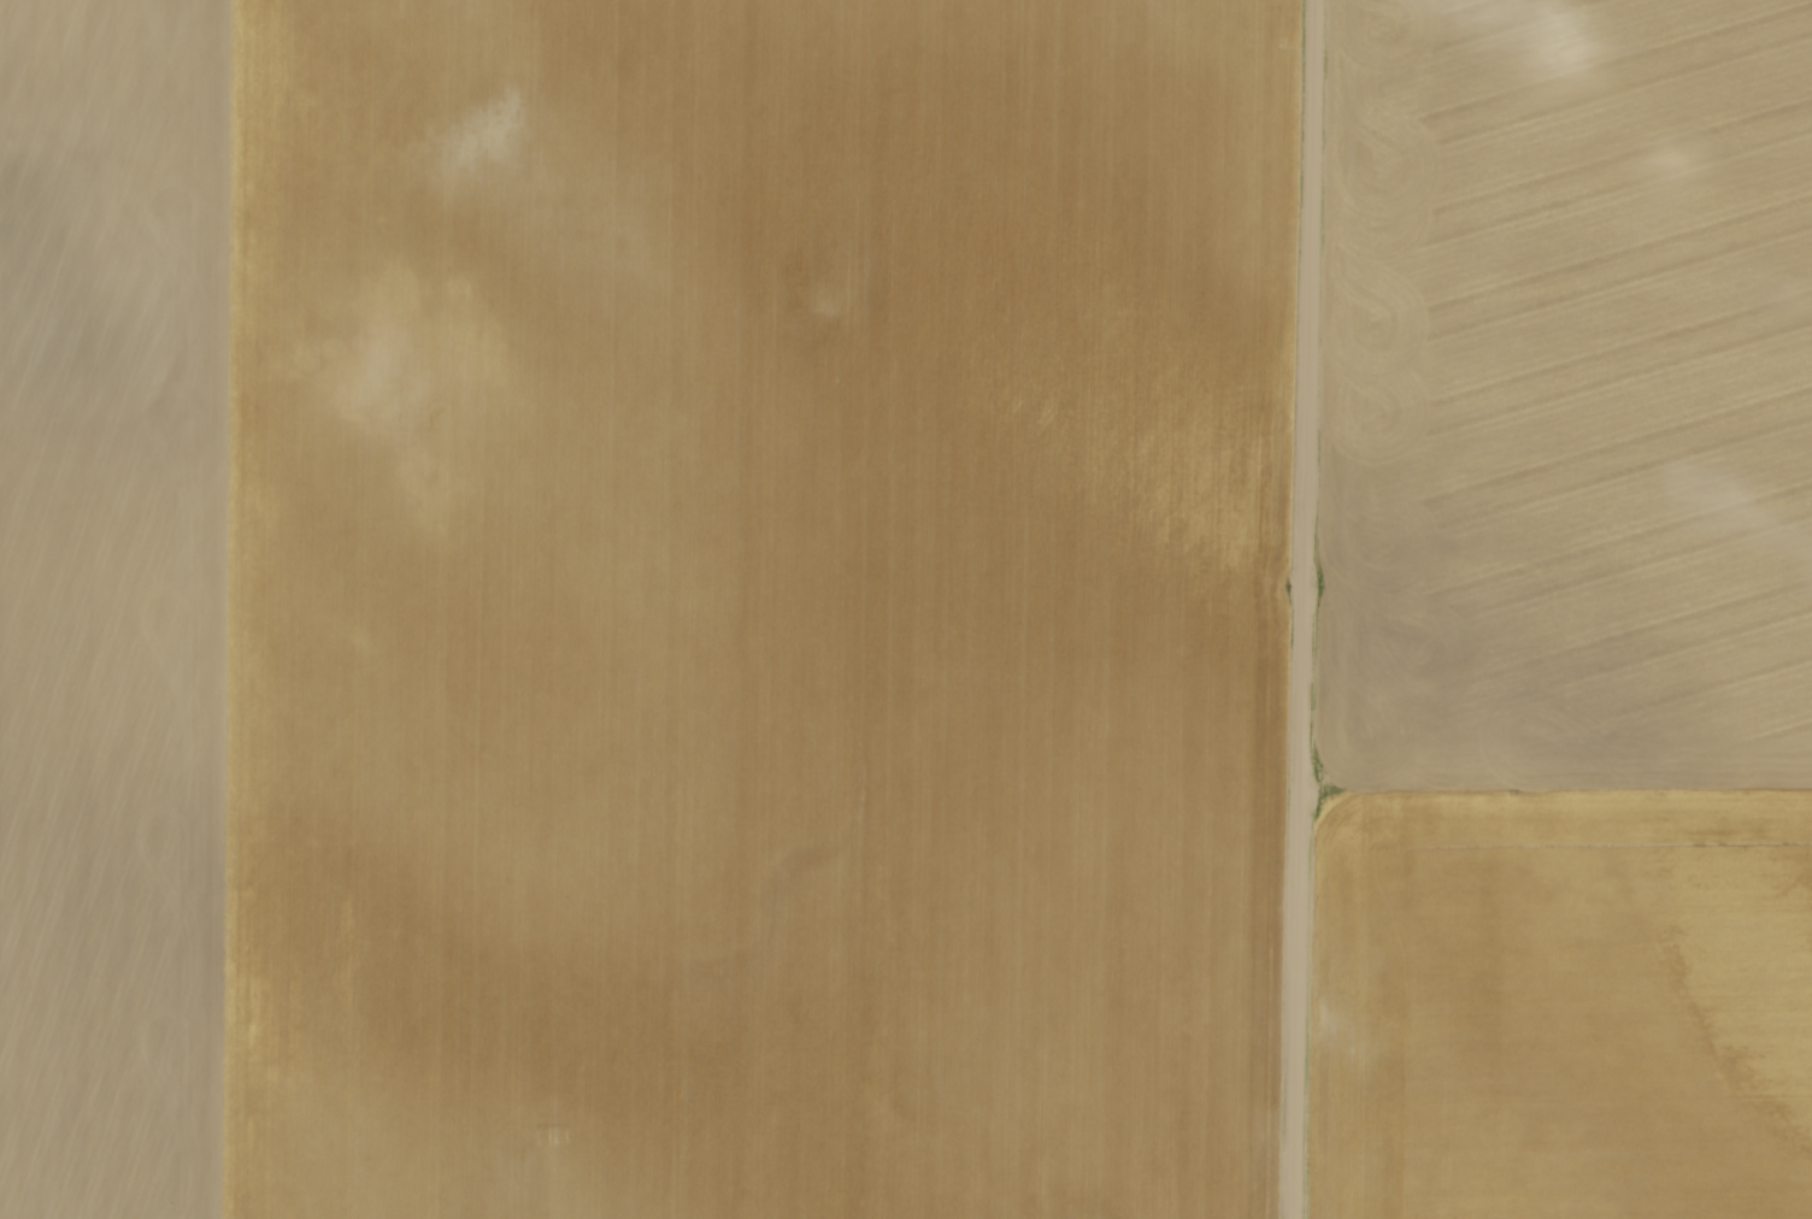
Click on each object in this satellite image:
crop: (637, 607)
road: (1296, 608)
crop: (1565, 612)

